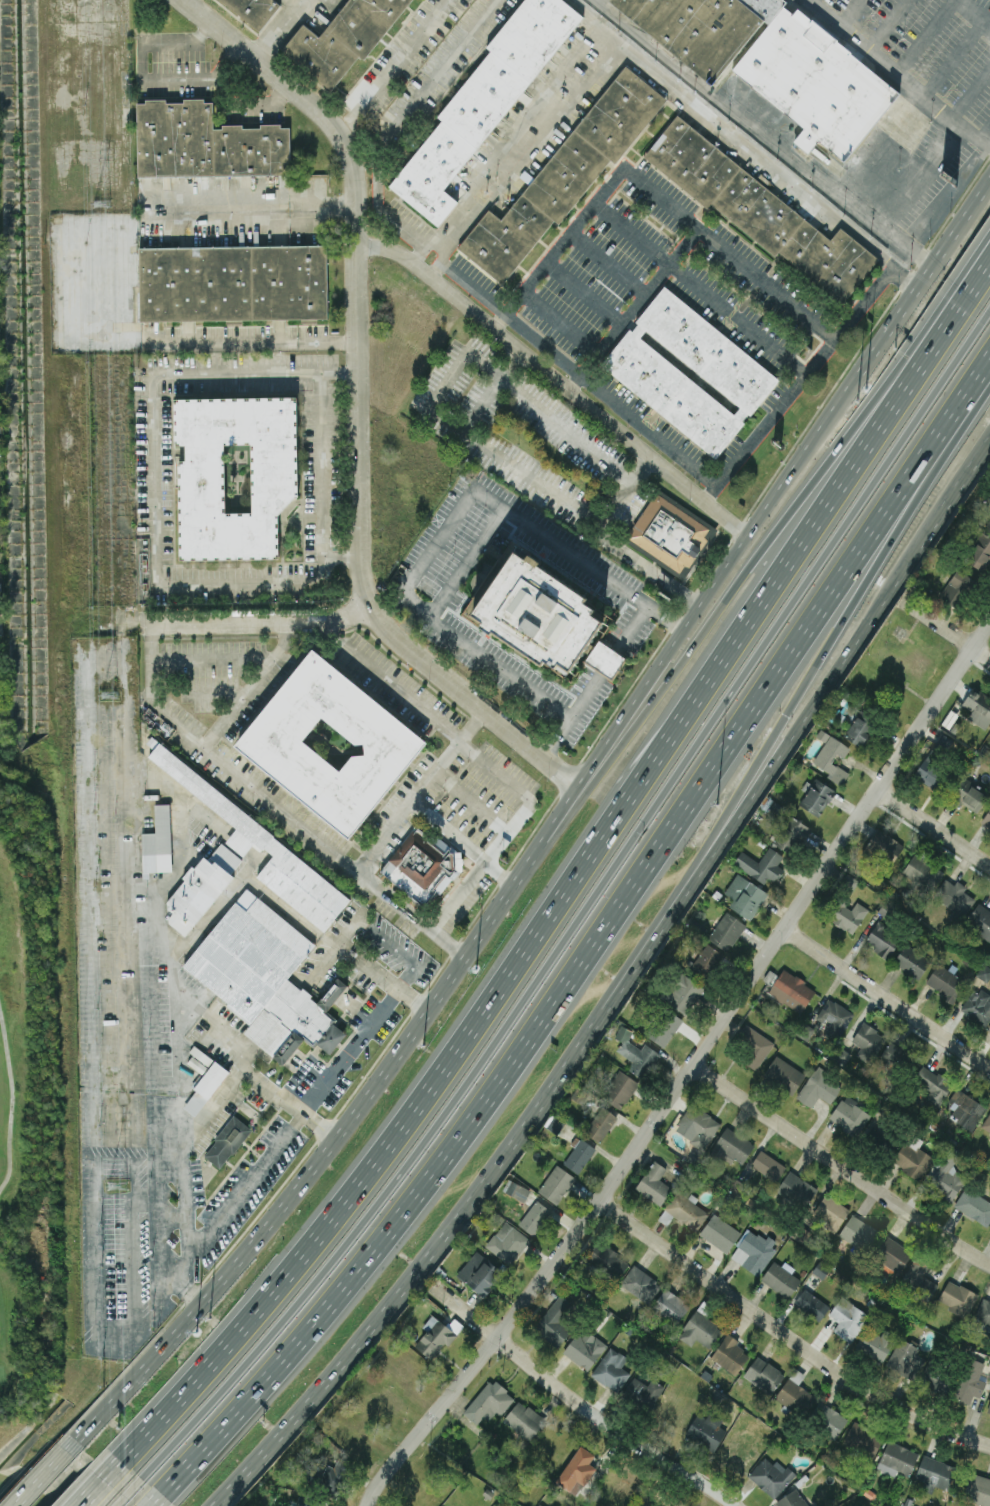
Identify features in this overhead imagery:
building: (249, 11)
road: (851, 12)
road: (973, 13)
road: (891, 23)
road: (278, 29)
road: (924, 34)
building: (342, 37)
road: (953, 57)
building: (768, 58)
road: (392, 64)
road: (902, 72)
road: (144, 78)
road: (424, 85)
road: (970, 92)
building: (482, 98)
road: (246, 101)
road: (983, 131)
road: (766, 134)
building: (205, 143)
road: (743, 143)
road: (516, 153)
building: (561, 174)
road: (921, 176)
road: (335, 188)
road: (649, 189)
power tower: (99, 204)
building: (761, 212)
road: (317, 231)
road: (449, 262)
road: (607, 265)
road: (926, 279)
building: (229, 281)
road: (698, 291)
road: (582, 294)
road: (560, 326)
road: (619, 329)
road: (254, 340)
building: (728, 369)
road: (153, 375)
road: (556, 380)
road: (799, 382)
road: (490, 391)
road: (361, 403)
road: (451, 425)
road: (649, 432)
road: (942, 448)
road: (966, 472)
building: (227, 474)
road: (626, 492)
road: (451, 522)
building: (988, 526)
building: (668, 533)
road: (762, 546)
road: (325, 554)
building: (980, 554)
road: (347, 559)
road: (465, 564)
building: (957, 588)
road: (692, 613)
building: (531, 615)
road: (248, 618)
road: (112, 623)
road: (860, 627)
road: (947, 630)
road: (836, 632)
road: (192, 660)
building: (605, 660)
road: (260, 677)
road: (390, 682)
road: (595, 682)
power tower: (109, 695)
building: (978, 708)
building: (860, 728)
building: (324, 743)
building: (831, 757)
building: (934, 761)
road: (425, 791)
building: (969, 796)
building: (817, 797)
building: (986, 819)
road: (934, 826)
road: (181, 834)
road: (452, 834)
building: (791, 834)
building: (251, 836)
building: (158, 842)
building: (884, 846)
building: (761, 865)
building: (422, 866)
building: (922, 871)
road: (502, 872)
road: (569, 876)
road: (383, 887)
building: (745, 896)
building: (954, 898)
road: (580, 915)
building: (850, 917)
building: (980, 921)
building: (726, 931)
building: (882, 939)
road: (336, 942)
road: (397, 950)
building: (912, 961)
building: (706, 962)
building: (984, 973)
road: (380, 976)
building: (265, 978)
building: (945, 982)
building: (791, 991)
building: (683, 993)
road: (888, 997)
building: (978, 1006)
building: (833, 1017)
road: (541, 1024)
building: (663, 1027)
building: (989, 1030)
building: (868, 1042)
road: (358, 1044)
building: (753, 1046)
building: (636, 1054)
building: (894, 1055)
road: (238, 1064)
road: (691, 1072)
building: (784, 1075)
building: (211, 1079)
building: (933, 1085)
building: (818, 1087)
building: (620, 1090)
road: (132, 1098)
building: (966, 1111)
park: (24, 1112)
road: (184, 1114)
building: (849, 1116)
building: (986, 1123)
building: (555, 1124)
building: (600, 1124)
building: (697, 1126)
road: (515, 1140)
building: (226, 1142)
building: (733, 1146)
building: (579, 1155)
building: (913, 1158)
road: (317, 1160)
building: (768, 1166)
road: (842, 1167)
building: (947, 1176)
building: (556, 1183)
building: (654, 1184)
power tower: (117, 1188)
building: (796, 1189)
building: (516, 1190)
building: (974, 1206)
building: (686, 1210)
building: (830, 1212)
building: (534, 1217)
building: (720, 1233)
building: (859, 1233)
building: (507, 1243)
building: (752, 1251)
building: (891, 1254)
building: (606, 1261)
building: (479, 1274)
building: (780, 1279)
building: (918, 1280)
building: (639, 1284)
building: (957, 1298)
building: (811, 1305)
building: (670, 1306)
building: (983, 1312)
building: (848, 1319)
building: (555, 1321)
building: (700, 1330)
building: (989, 1335)
road: (787, 1336)
building: (434, 1339)
building: (875, 1343)
building: (584, 1351)
building: (730, 1354)
building: (905, 1359)
building: (611, 1370)
building: (763, 1375)
building: (932, 1378)
building: (970, 1382)
building: (644, 1391)
building: (795, 1394)
building: (488, 1403)
road: (576, 1405)
building: (988, 1409)
building: (524, 1420)
building: (830, 1421)
building: (706, 1431)
building: (863, 1439)
building: (738, 1453)
building: (897, 1460)
road: (40, 1471)
building: (577, 1471)
building: (935, 1472)
building: (771, 1477)
road: (98, 1489)
building: (978, 1490)
river: (19, 1492)
road: (127, 1497)
building: (791, 1499)

